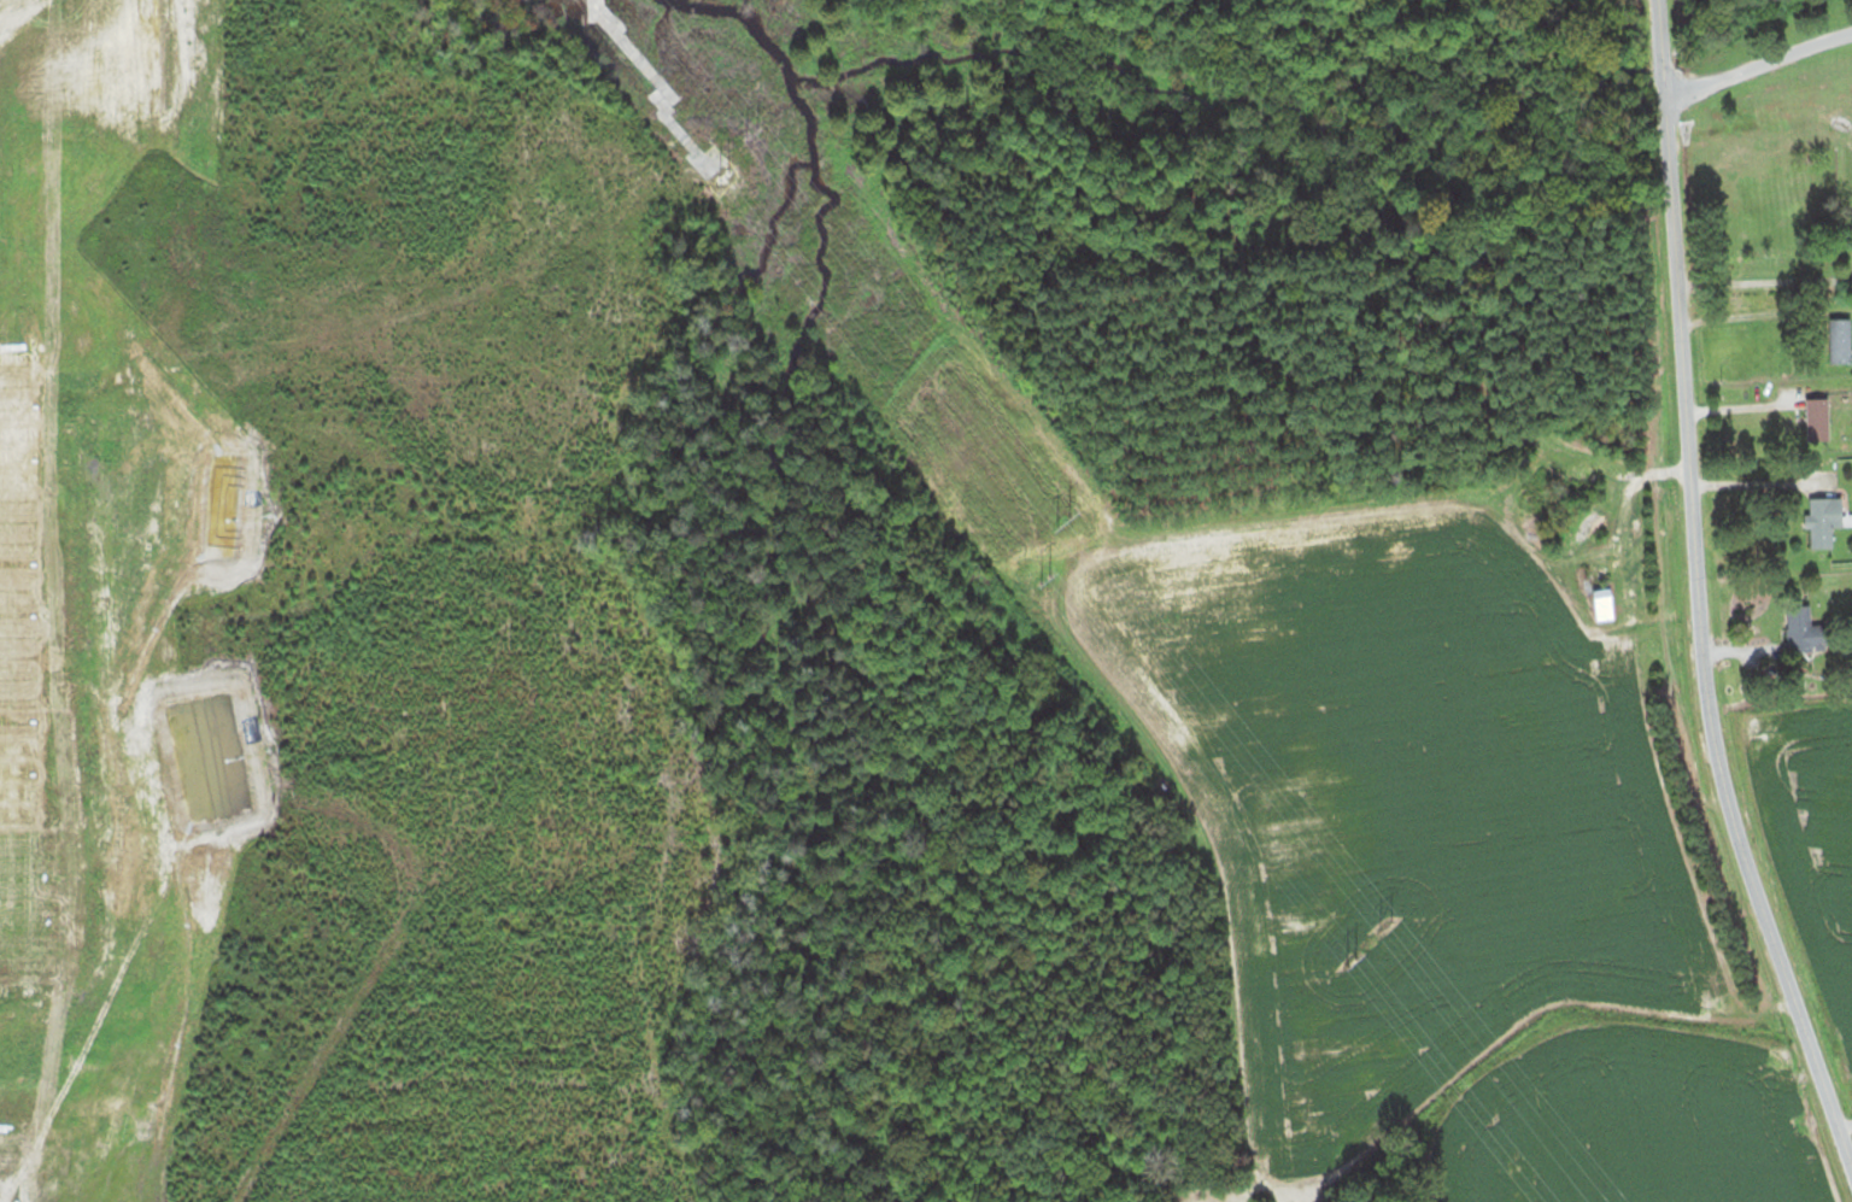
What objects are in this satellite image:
road: (1757, 63)
power tower: (767, 131)
building: (1784, 134)
building: (1841, 339)
building: (1819, 420)
road: (1752, 483)
building: (1825, 521)
power tower: (1078, 526)
road: (1694, 593)
building: (1605, 604)
building: (1807, 632)
solar farm: (46, 737)
power tower: (1389, 922)
road: (1846, 1128)

